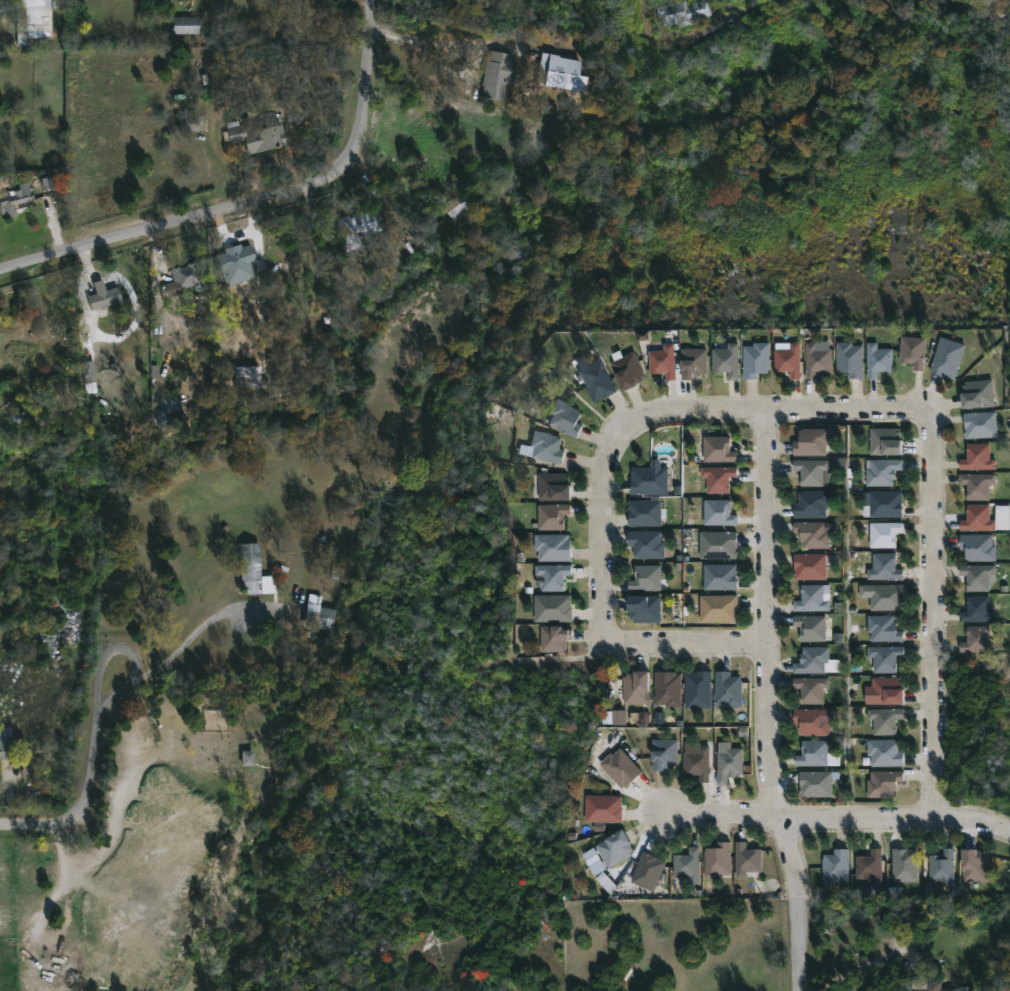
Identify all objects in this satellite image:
building: (682, 12)
building: (34, 20)
building: (187, 25)
road: (651, 29)
road: (424, 41)
building: (560, 74)
building: (497, 75)
building: (188, 124)
building: (259, 137)
road: (223, 162)
building: (14, 202)
road: (258, 202)
building: (456, 205)
building: (359, 228)
building: (412, 245)
building: (237, 260)
building: (188, 276)
building: (105, 300)
building: (911, 352)
building: (947, 358)
building: (848, 359)
building: (725, 361)
building: (754, 361)
building: (786, 361)
building: (815, 361)
building: (876, 361)
building: (662, 362)
building: (691, 364)
building: (87, 372)
building: (629, 372)
building: (247, 378)
building: (602, 382)
building: (976, 394)
road: (666, 411)
building: (16, 413)
building: (569, 419)
building: (979, 425)
building: (809, 440)
building: (884, 440)
building: (549, 446)
building: (716, 450)
building: (976, 458)
building: (810, 470)
building: (881, 471)
building: (652, 479)
building: (717, 479)
building: (558, 485)
building: (977, 485)
building: (810, 502)
building: (886, 503)
building: (648, 512)
building: (717, 513)
building: (553, 515)
building: (976, 518)
building: (1003, 518)
building: (811, 533)
building: (882, 533)
building: (339, 538)
building: (649, 543)
building: (719, 544)
building: (556, 546)
building: (977, 547)
building: (808, 564)
building: (883, 566)
building: (256, 570)
building: (556, 575)
building: (721, 575)
building: (977, 576)
building: (650, 577)
building: (882, 595)
building: (810, 597)
building: (554, 607)
building: (719, 607)
building: (649, 608)
building: (977, 609)
road: (767, 613)
building: (321, 614)
road: (934, 614)
building: (809, 626)
building: (881, 627)
building: (555, 637)
building: (977, 639)
road: (683, 644)
building: (884, 657)
building: (811, 659)
building: (642, 686)
building: (810, 688)
building: (673, 689)
building: (702, 689)
building: (733, 689)
building: (887, 690)
building: (810, 720)
building: (886, 720)
road: (101, 722)
building: (5, 743)
building: (811, 752)
building: (885, 752)
building: (668, 753)
building: (247, 758)
building: (697, 761)
building: (730, 763)
building: (624, 767)
building: (813, 783)
building: (885, 783)
building: (606, 809)
road: (835, 815)
building: (621, 847)
building: (747, 859)
building: (720, 860)
building: (594, 861)
building: (691, 864)
building: (903, 864)
building: (973, 864)
building: (941, 865)
building: (868, 866)
building: (834, 867)
building: (651, 871)
road: (793, 901)
road: (861, 966)
building: (55, 967)
building: (932, 989)

